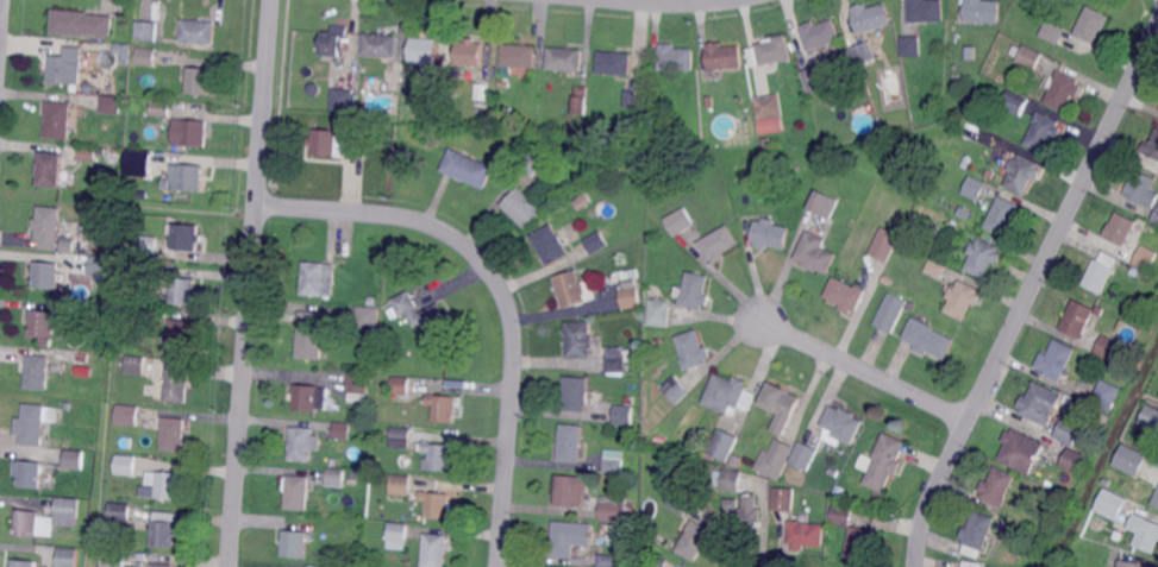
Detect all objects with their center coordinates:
road: (678, 2)
building: (927, 11)
building: (982, 12)
building: (872, 17)
building: (82, 23)
building: (1091, 23)
road: (1, 24)
building: (152, 31)
building: (200, 32)
building: (1052, 32)
building: (820, 33)
building: (336, 40)
building: (381, 45)
building: (910, 45)
building: (424, 49)
building: (775, 50)
building: (470, 52)
building: (863, 52)
building: (969, 53)
building: (148, 56)
building: (518, 56)
building: (724, 56)
building: (845, 57)
building: (1028, 58)
building: (565, 59)
building: (676, 59)
building: (615, 63)
building: (68, 65)
building: (200, 81)
building: (814, 81)
building: (440, 87)
building: (1063, 89)
building: (314, 90)
building: (582, 94)
building: (630, 100)
building: (343, 101)
building: (708, 102)
building: (832, 102)
building: (1014, 103)
building: (112, 106)
building: (770, 106)
building: (163, 107)
building: (503, 112)
building: (60, 120)
building: (1043, 131)
building: (190, 133)
building: (326, 143)
building: (1151, 146)
building: (355, 150)
building: (89, 153)
building: (143, 163)
building: (531, 163)
building: (832, 165)
building: (468, 168)
building: (54, 169)
building: (1021, 174)
building: (189, 177)
building: (1140, 187)
building: (975, 188)
building: (582, 201)
building: (820, 201)
building: (522, 207)
building: (1003, 215)
building: (1156, 218)
building: (678, 222)
building: (50, 226)
building: (1120, 228)
building: (1152, 229)
building: (770, 233)
building: (188, 239)
building: (596, 241)
building: (70, 244)
building: (146, 244)
building: (551, 244)
building: (719, 244)
building: (883, 246)
building: (814, 253)
building: (982, 257)
building: (1144, 259)
building: (100, 266)
building: (933, 270)
building: (1133, 272)
building: (46, 275)
building: (1098, 275)
building: (317, 278)
building: (885, 281)
road: (251, 283)
building: (183, 289)
building: (572, 290)
building: (628, 290)
building: (694, 290)
road: (502, 292)
road: (1027, 292)
building: (845, 294)
building: (962, 298)
building: (1157, 300)
building: (373, 302)
building: (658, 310)
building: (1098, 311)
building: (427, 316)
building: (885, 317)
building: (368, 319)
building: (1076, 320)
building: (44, 325)
building: (312, 335)
building: (182, 336)
building: (927, 338)
building: (578, 340)
building: (1107, 349)
building: (691, 351)
building: (616, 359)
building: (1056, 359)
building: (137, 366)
road: (864, 370)
building: (38, 371)
building: (357, 384)
building: (179, 385)
building: (399, 386)
building: (386, 388)
building: (676, 389)
building: (1104, 393)
building: (575, 395)
building: (725, 395)
building: (308, 398)
building: (1039, 403)
building: (781, 405)
building: (1140, 407)
building: (444, 408)
building: (129, 415)
building: (624, 415)
building: (1150, 418)
building: (33, 423)
building: (843, 423)
building: (339, 429)
building: (1069, 430)
building: (175, 434)
building: (399, 440)
building: (659, 441)
building: (571, 442)
building: (303, 443)
building: (721, 446)
building: (1022, 451)
building: (805, 455)
building: (437, 456)
building: (74, 460)
building: (774, 460)
building: (1069, 460)
building: (614, 461)
building: (734, 461)
building: (884, 461)
building: (1129, 461)
building: (127, 464)
building: (833, 472)
building: (29, 474)
building: (337, 478)
building: (731, 481)
building: (399, 486)
building: (997, 486)
building: (164, 487)
building: (839, 490)
building: (298, 491)
building: (571, 491)
building: (780, 499)
building: (1156, 499)
building: (678, 502)
building: (437, 504)
building: (1109, 506)
building: (120, 510)
building: (616, 510)
building: (839, 516)
building: (745, 517)
building: (49, 518)
building: (165, 529)
building: (976, 530)
building: (398, 534)
building: (1144, 534)
building: (806, 535)
building: (571, 537)
building: (696, 540)
building: (295, 543)
building: (859, 544)
building: (433, 550)
building: (65, 557)
building: (114, 559)
building: (608, 560)
building: (655, 562)
building: (23, 563)
building: (970, 563)
building: (1129, 563)
building: (162, 565)

